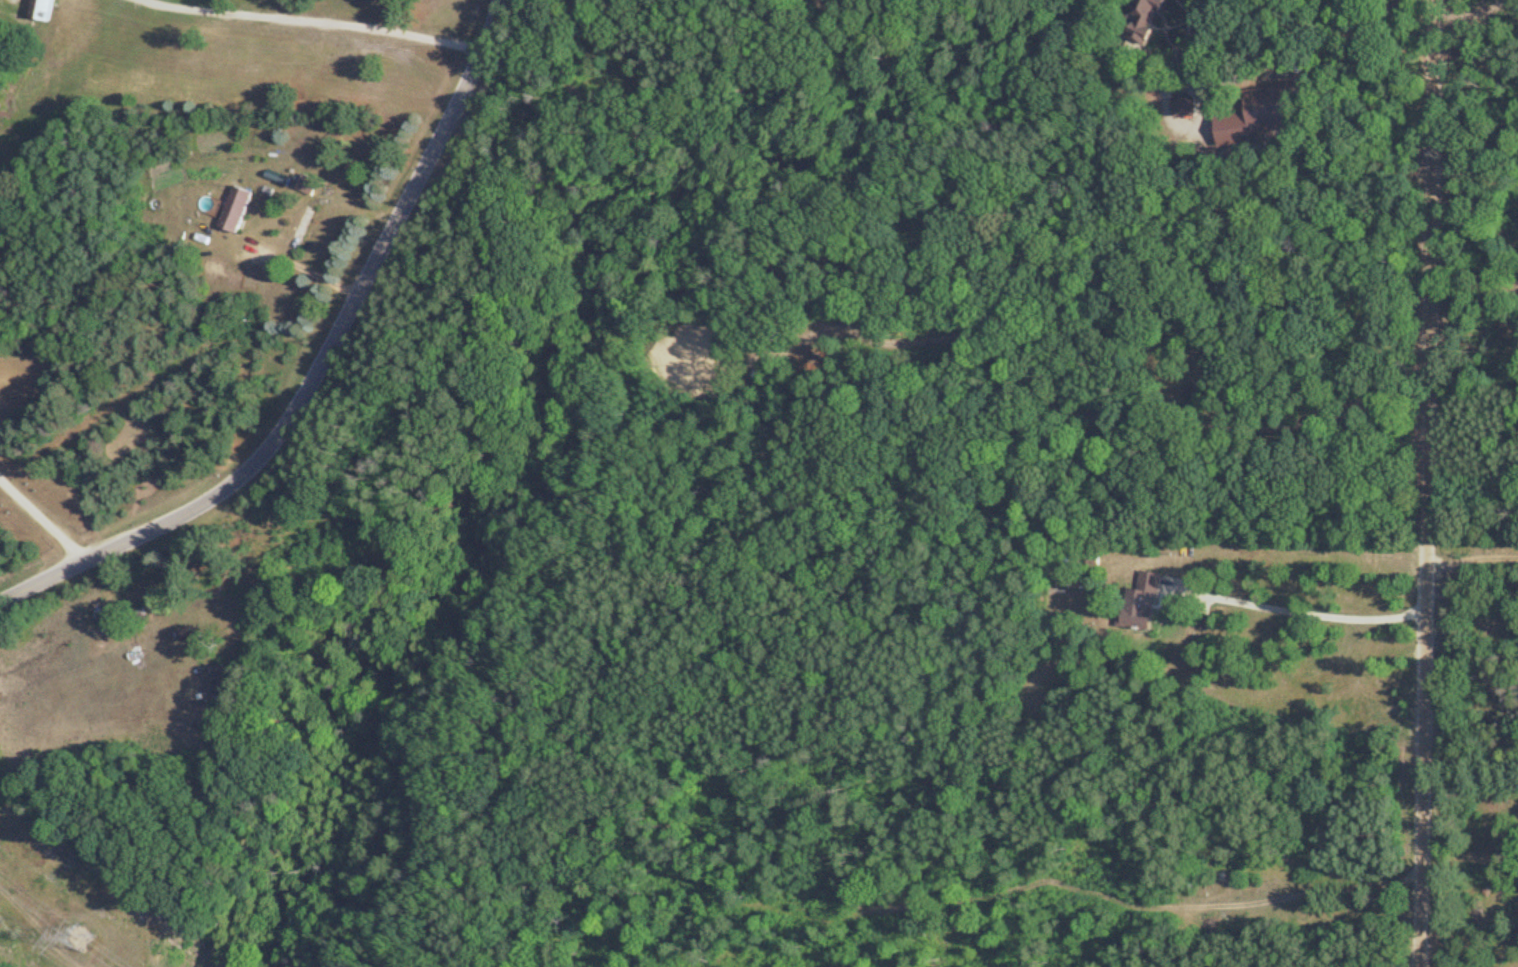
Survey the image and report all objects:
road: (323, 22)
building: (303, 185)
building: (232, 210)
road: (305, 266)
road: (319, 365)
road: (1419, 483)
road: (42, 514)
road: (1298, 608)
road: (1466, 863)
power tower: (80, 932)

